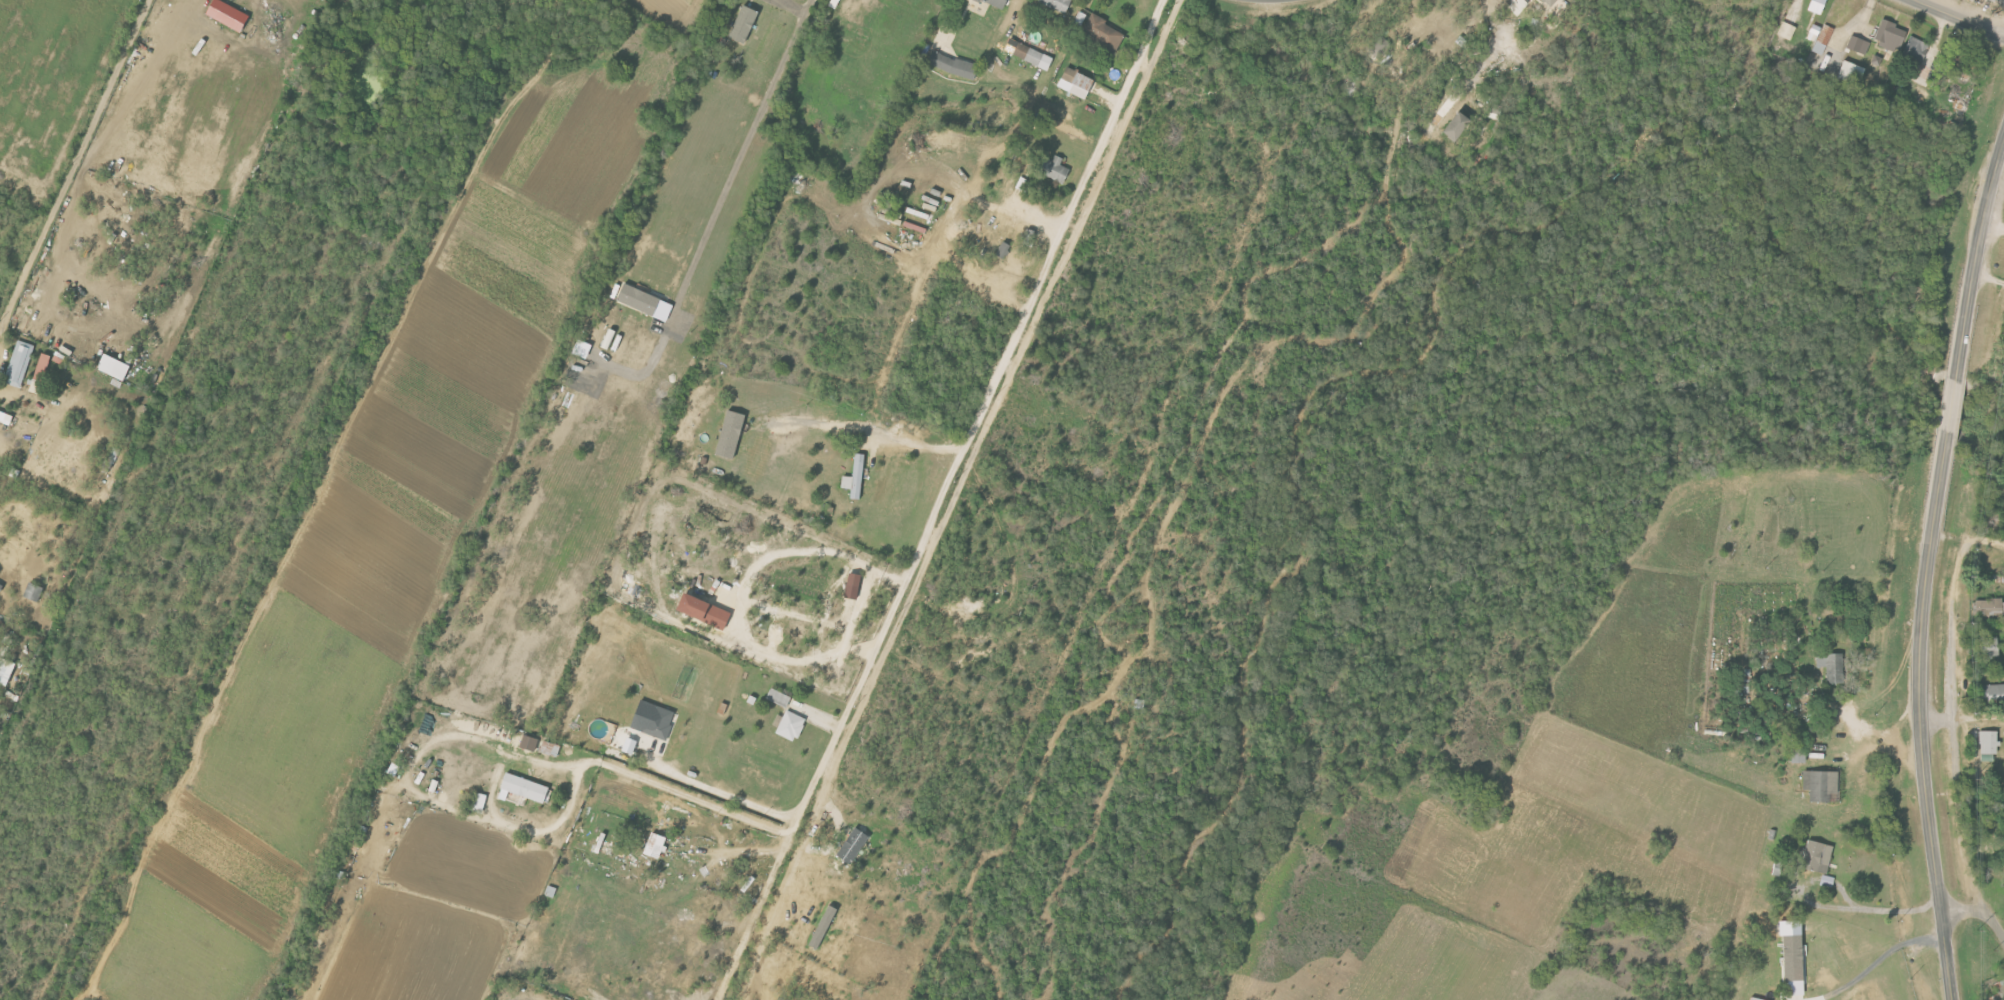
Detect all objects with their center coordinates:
building: (1994, 0)
building: (1550, 2)
building: (997, 3)
building: (1057, 4)
building: (1818, 6)
road: (793, 11)
building: (229, 15)
building: (1081, 18)
road: (1958, 18)
building: (745, 24)
building: (1787, 30)
building: (1104, 32)
building: (1891, 36)
building: (1820, 37)
building: (1859, 44)
building: (1379, 47)
building: (1917, 49)
building: (1531, 52)
building: (1034, 56)
building: (953, 65)
building: (1850, 73)
building: (1075, 82)
building: (1454, 115)
road: (74, 162)
building: (1056, 169)
road: (1994, 219)
building: (1004, 250)
road: (1975, 261)
road: (1988, 282)
building: (641, 299)
building: (19, 364)
building: (43, 367)
building: (115, 367)
road: (1951, 407)
road: (979, 414)
road: (868, 425)
building: (732, 434)
building: (856, 478)
road: (956, 496)
road: (1985, 540)
building: (854, 580)
building: (1, 587)
building: (34, 592)
road: (743, 592)
building: (1987, 609)
building: (706, 612)
road: (1952, 627)
building: (1990, 649)
building: (1833, 667)
building: (6, 671)
building: (1995, 695)
building: (780, 698)
road: (1859, 704)
road: (1918, 716)
road: (1978, 718)
road: (1935, 719)
building: (654, 720)
building: (790, 726)
building: (1989, 745)
building: (631, 746)
building: (550, 752)
building: (1799, 756)
road: (560, 762)
building: (395, 770)
building: (1822, 785)
building: (524, 789)
road: (723, 794)
building: (479, 803)
road: (1955, 817)
building: (853, 845)
building: (657, 846)
building: (1817, 857)
building: (1827, 882)
road: (1884, 911)
road: (1979, 912)
road: (754, 914)
building: (824, 927)
road: (1876, 961)
building: (1795, 966)
building: (1760, 999)

